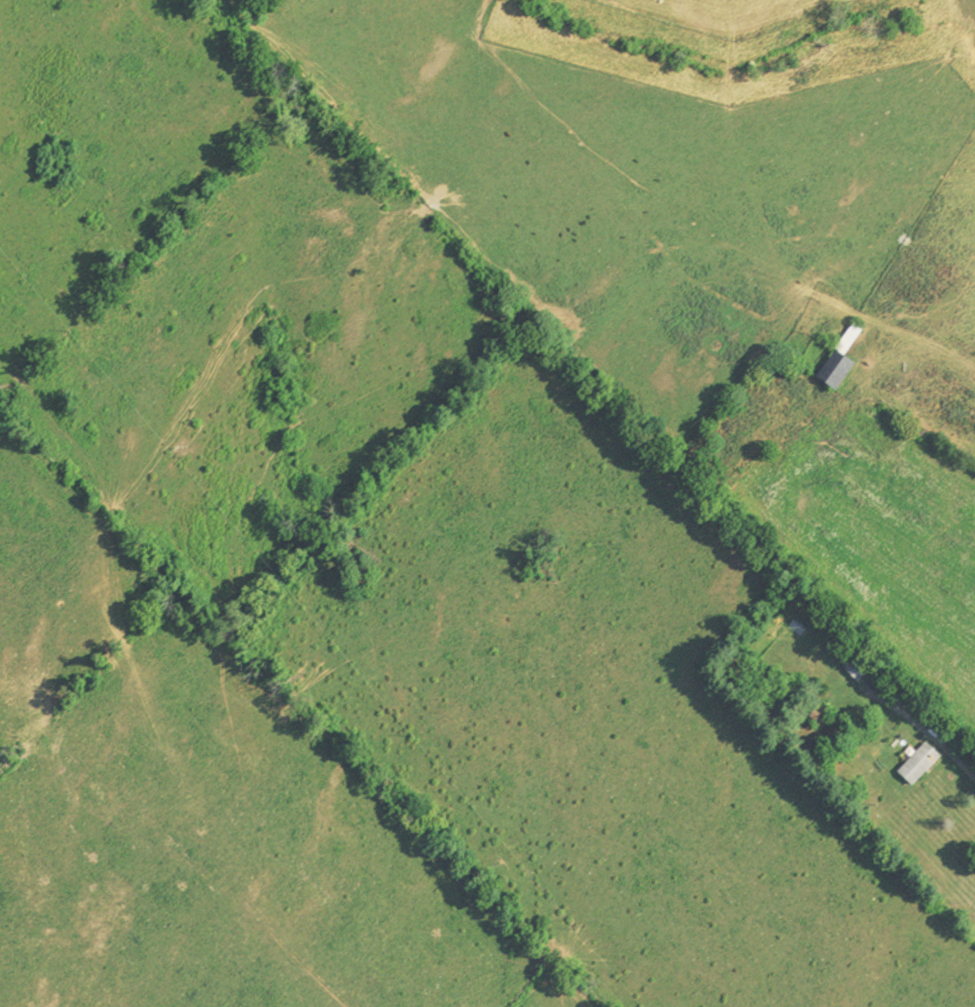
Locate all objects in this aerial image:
building: (833, 363)
road: (923, 378)
building: (852, 670)
road: (956, 760)
building: (913, 766)

